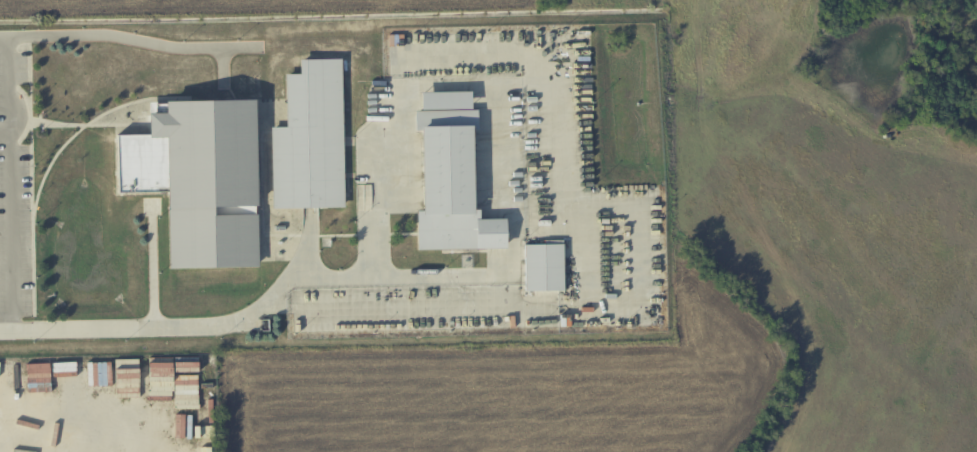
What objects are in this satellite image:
road: (126, 37)
road: (10, 83)
road: (509, 93)
road: (5, 133)
building: (312, 137)
building: (451, 175)
building: (199, 179)
road: (12, 230)
building: (573, 266)
building: (545, 267)
road: (196, 327)
building: (127, 365)
building: (69, 375)
crop: (519, 391)
building: (42, 393)

